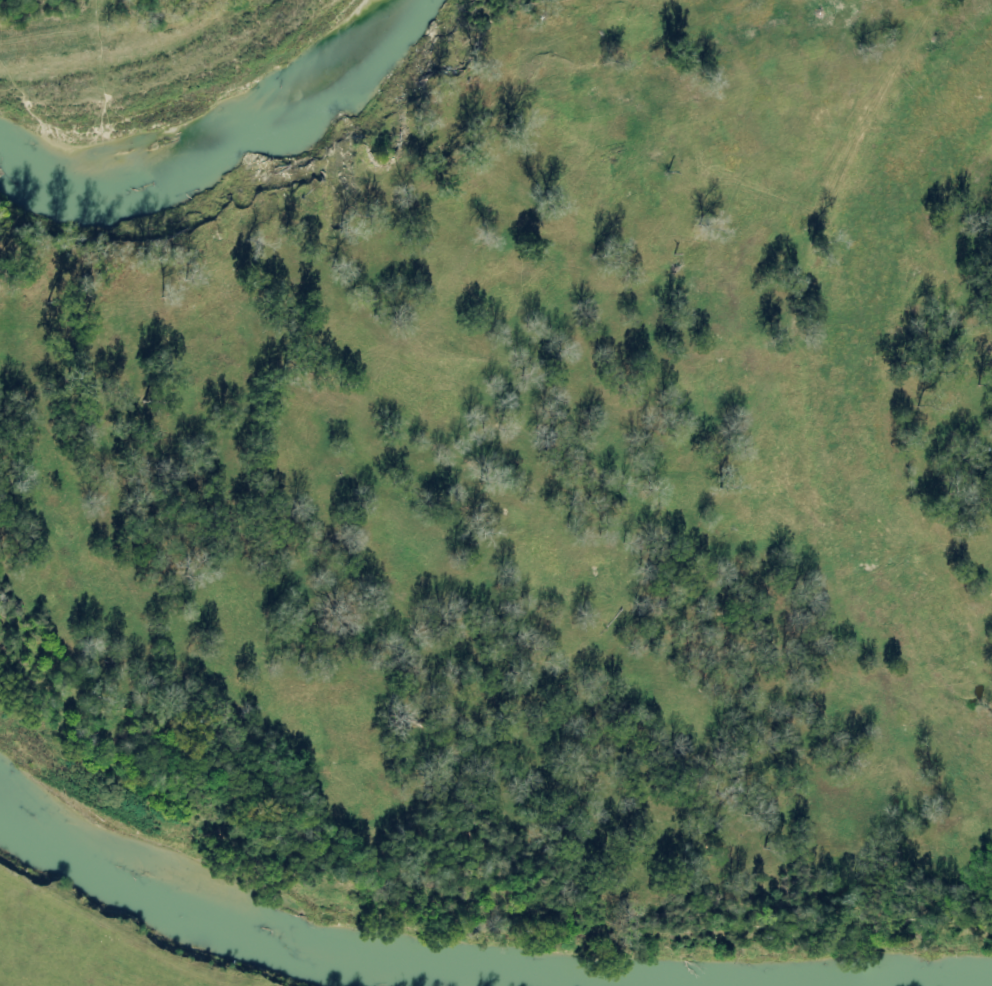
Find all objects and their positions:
river: (198, 113)
river: (248, 917)
river: (980, 985)

